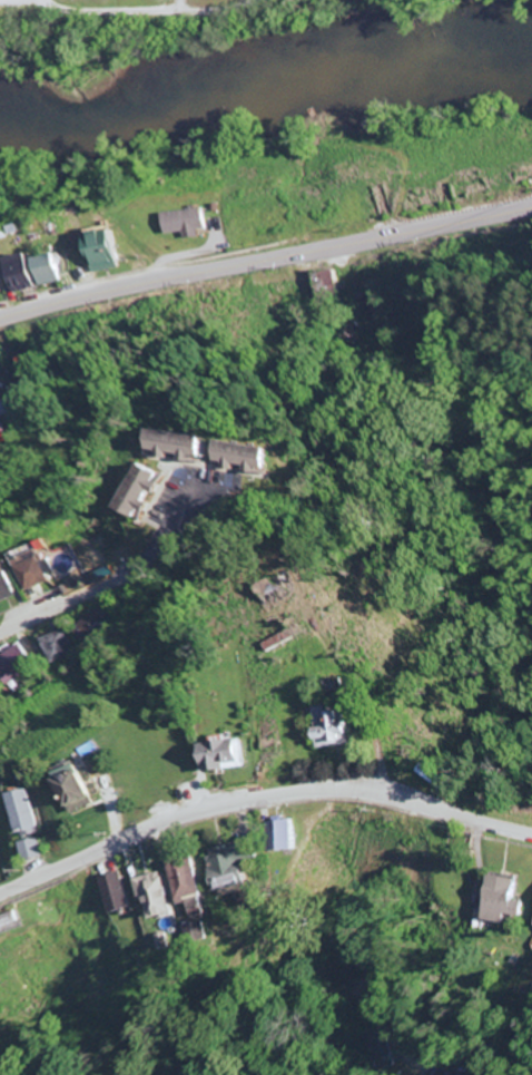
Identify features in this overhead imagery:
road: (0, 0)
road: (43, 1)
road: (150, 13)
building: (188, 224)
building: (116, 251)
road: (265, 258)
building: (41, 274)
building: (1, 283)
building: (2, 436)
building: (188, 448)
building: (250, 457)
building: (148, 493)
building: (37, 573)
building: (7, 586)
road: (77, 600)
building: (92, 625)
building: (58, 647)
building: (16, 664)
road: (286, 706)
building: (342, 730)
building: (227, 755)
building: (83, 792)
road: (259, 799)
building: (24, 813)
building: (287, 835)
building: (30, 850)
building: (240, 863)
building: (191, 876)
building: (117, 893)
building: (161, 896)
building: (509, 900)
building: (10, 923)
building: (196, 932)
road: (306, 1039)

